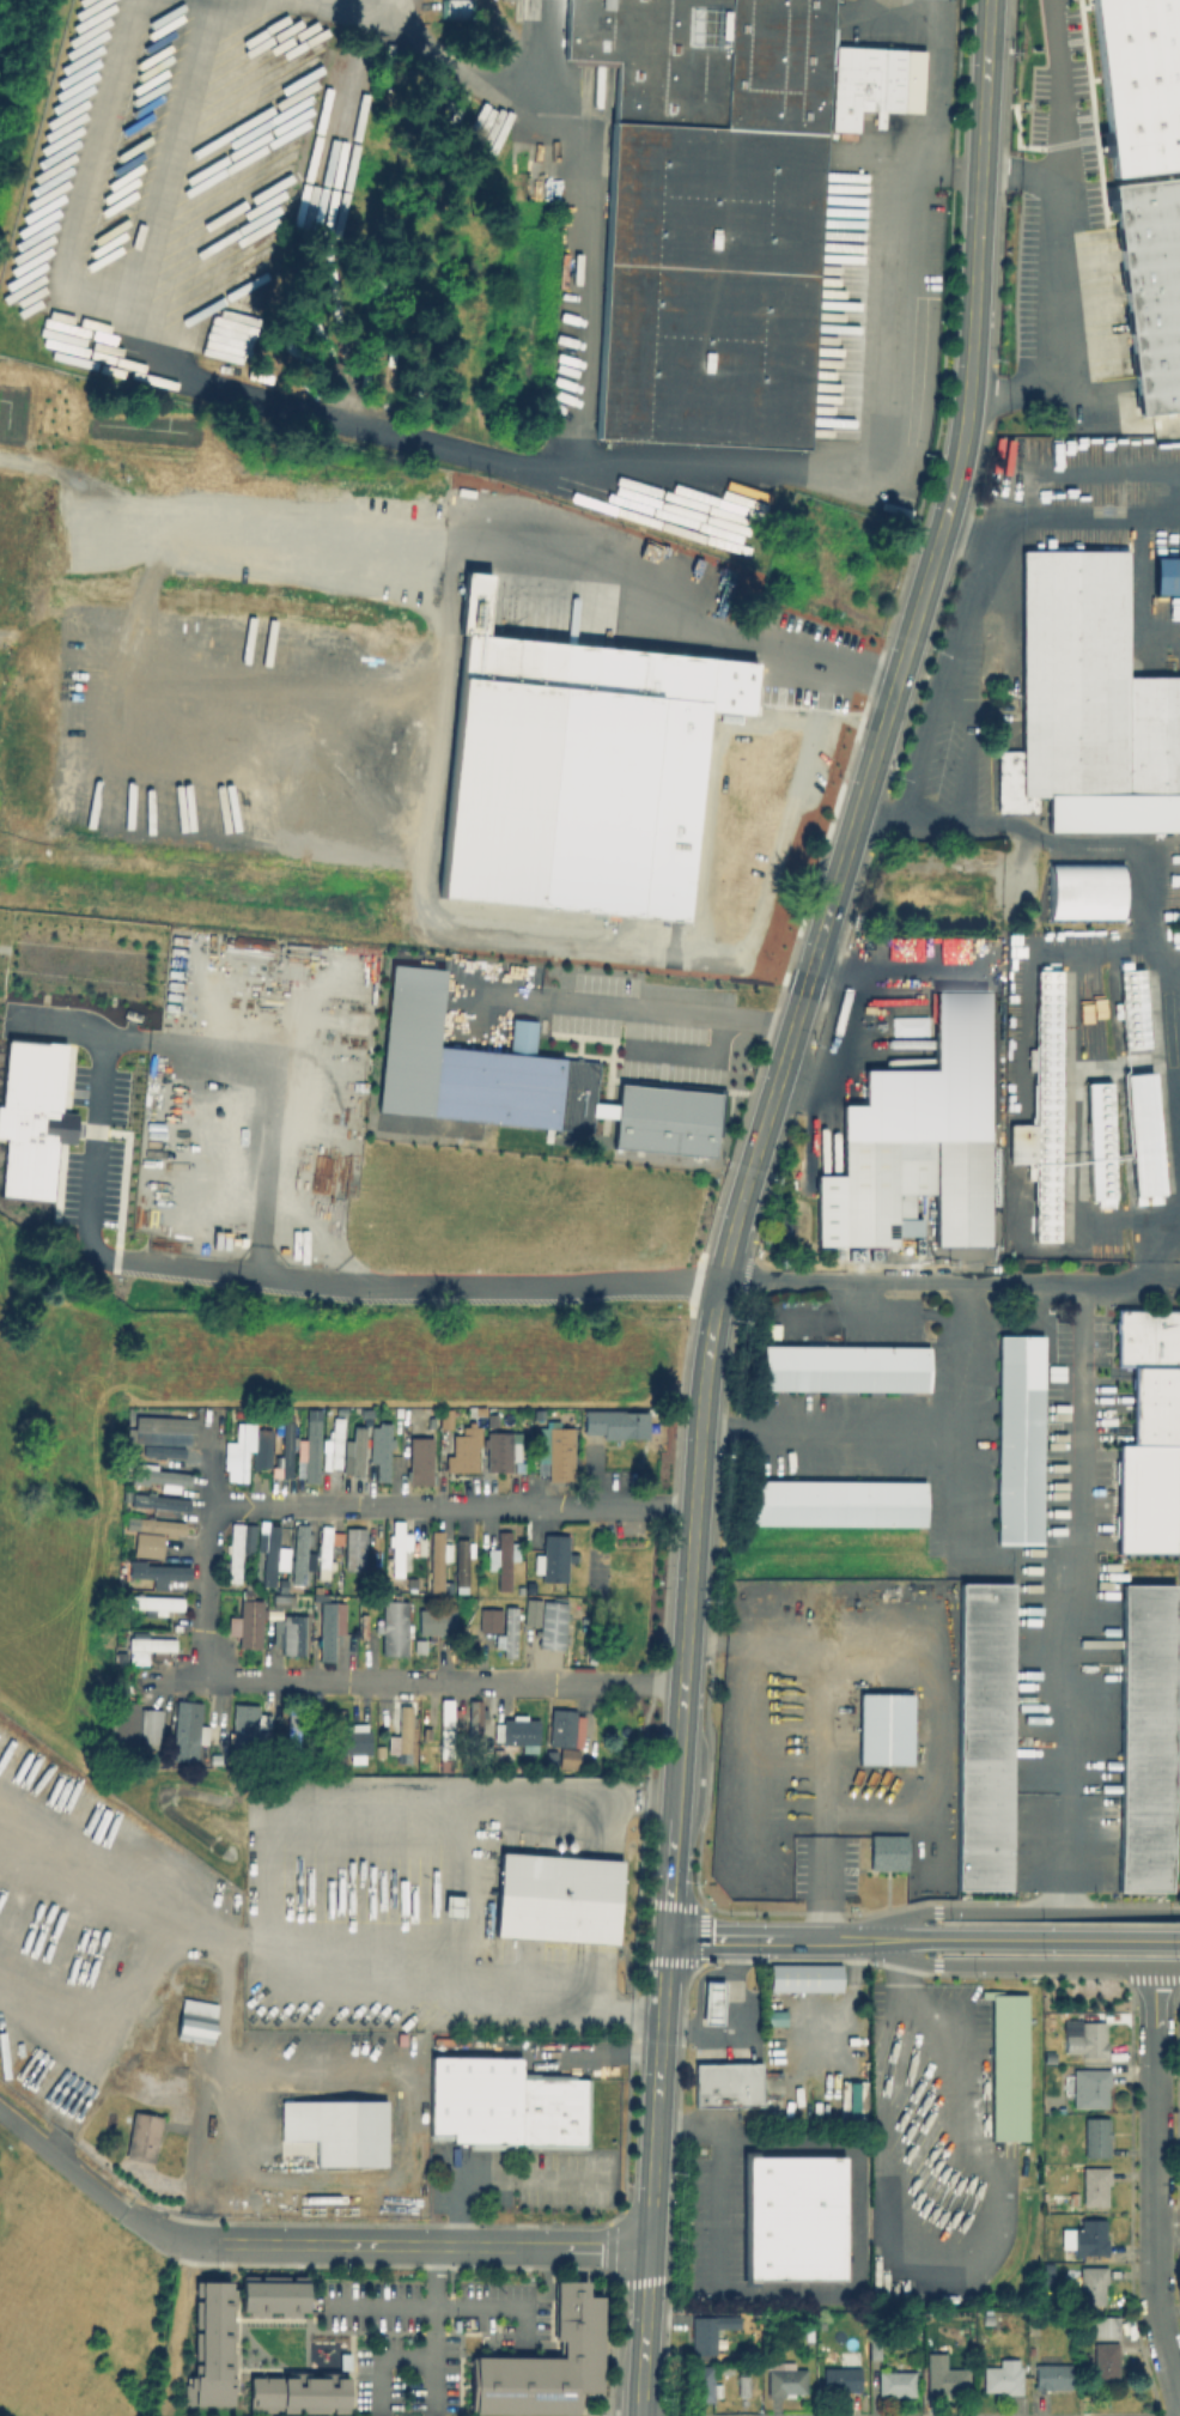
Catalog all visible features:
road: (261, 1)
building: (451, 8)
road: (425, 48)
building: (1139, 83)
road: (1018, 169)
building: (1161, 175)
road: (1058, 189)
building: (711, 214)
road: (584, 223)
building: (1154, 287)
road: (112, 292)
road: (1010, 388)
road: (332, 412)
road: (877, 421)
road: (1060, 517)
building: (1166, 575)
road: (1166, 629)
road: (689, 645)
building: (1091, 686)
building: (576, 770)
building: (1112, 813)
road: (929, 817)
road: (1133, 856)
building: (1083, 890)
building: (1011, 910)
road: (809, 965)
road: (503, 1000)
building: (1132, 1006)
road: (671, 1012)
building: (407, 1038)
road: (839, 1042)
building: (343, 1063)
building: (511, 1082)
building: (1041, 1107)
building: (31, 1116)
building: (1105, 1116)
building: (664, 1119)
building: (1141, 1135)
building: (916, 1141)
building: (1095, 1149)
road: (109, 1265)
road: (949, 1283)
building: (845, 1366)
building: (1150, 1370)
building: (475, 1406)
building: (475, 1412)
building: (443, 1418)
building: (489, 1419)
building: (615, 1422)
building: (165, 1424)
road: (901, 1426)
building: (1018, 1438)
building: (332, 1440)
building: (309, 1444)
building: (285, 1446)
building: (244, 1449)
building: (464, 1449)
building: (497, 1450)
building: (162, 1451)
building: (357, 1451)
building: (382, 1451)
building: (559, 1453)
building: (419, 1459)
building: (160, 1476)
road: (962, 1489)
building: (1146, 1499)
building: (835, 1501)
building: (160, 1503)
building: (159, 1525)
building: (286, 1531)
building: (147, 1543)
building: (326, 1543)
building: (396, 1543)
building: (237, 1547)
building: (353, 1548)
building: (269, 1550)
building: (299, 1552)
building: (554, 1558)
building: (436, 1559)
road: (1022, 1559)
building: (501, 1560)
building: (461, 1562)
building: (158, 1572)
building: (281, 1584)
building: (412, 1584)
road: (207, 1592)
road: (1069, 1598)
building: (281, 1599)
building: (153, 1603)
building: (531, 1607)
building: (489, 1619)
building: (434, 1621)
building: (247, 1623)
building: (328, 1625)
building: (363, 1625)
building: (551, 1625)
building: (567, 1626)
building: (393, 1627)
building: (468, 1628)
building: (506, 1632)
building: (288, 1634)
road: (705, 1641)
building: (418, 1645)
building: (147, 1647)
building: (118, 1656)
road: (823, 1701)
building: (291, 1723)
building: (473, 1724)
building: (133, 1725)
building: (245, 1725)
building: (556, 1726)
building: (402, 1728)
building: (444, 1728)
building: (572, 1728)
building: (884, 1729)
building: (516, 1731)
building: (187, 1732)
building: (981, 1737)
building: (1145, 1737)
building: (352, 1741)
building: (497, 1754)
building: (549, 1756)
building: (560, 1758)
building: (570, 1758)
building: (888, 1852)
road: (823, 1884)
road: (276, 1893)
building: (556, 1898)
road: (1008, 1911)
road: (753, 1937)
road: (889, 1937)
road: (1059, 1937)
road: (1008, 1963)
building: (804, 1977)
building: (711, 2001)
gas station: (711, 2001)
building: (773, 2016)
road: (732, 2019)
building: (195, 2020)
road: (98, 2026)
road: (937, 2027)
building: (1084, 2036)
building: (1008, 2065)
building: (771, 2081)
building: (725, 2084)
building: (1088, 2087)
building: (851, 2100)
building: (505, 2104)
building: (337, 2129)
building: (1095, 2137)
building: (141, 2142)
road: (651, 2175)
road: (500, 2180)
building: (1094, 2186)
road: (93, 2187)
road: (1152, 2191)
building: (791, 2216)
building: (1085, 2238)
road: (424, 2242)
road: (854, 2264)
building: (1091, 2287)
building: (269, 2297)
road: (434, 2297)
road: (438, 2305)
building: (986, 2319)
building: (1033, 2326)
building: (1106, 2327)
building: (708, 2331)
building: (209, 2345)
building: (874, 2349)
road: (407, 2351)
building: (342, 2361)
building: (1106, 2361)
building: (543, 2363)
building: (724, 2369)
building: (1052, 2373)
building: (944, 2378)
building: (1003, 2378)
building: (784, 2379)
building: (841, 2379)
building: (896, 2384)
building: (700, 2385)
building: (741, 2386)
building: (297, 2392)

